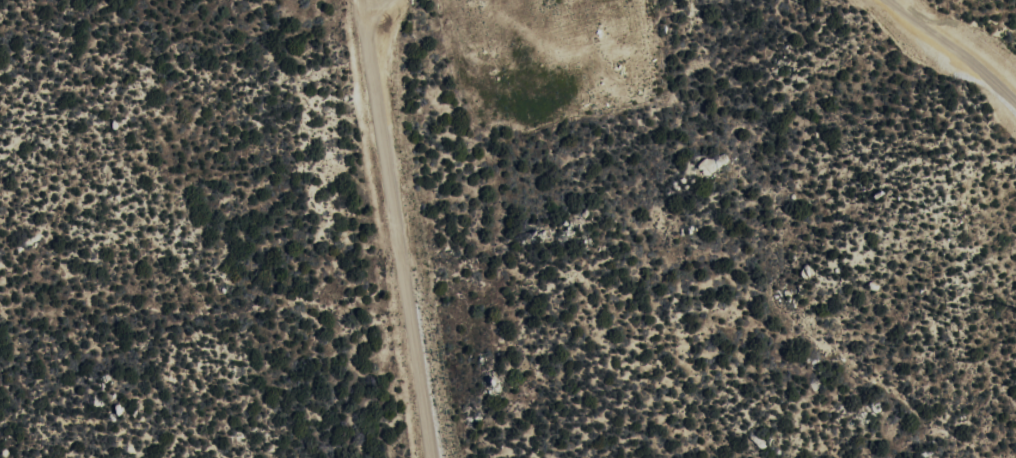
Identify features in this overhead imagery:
road: (372, 6)
road: (956, 48)
building: (710, 167)
road: (396, 229)

